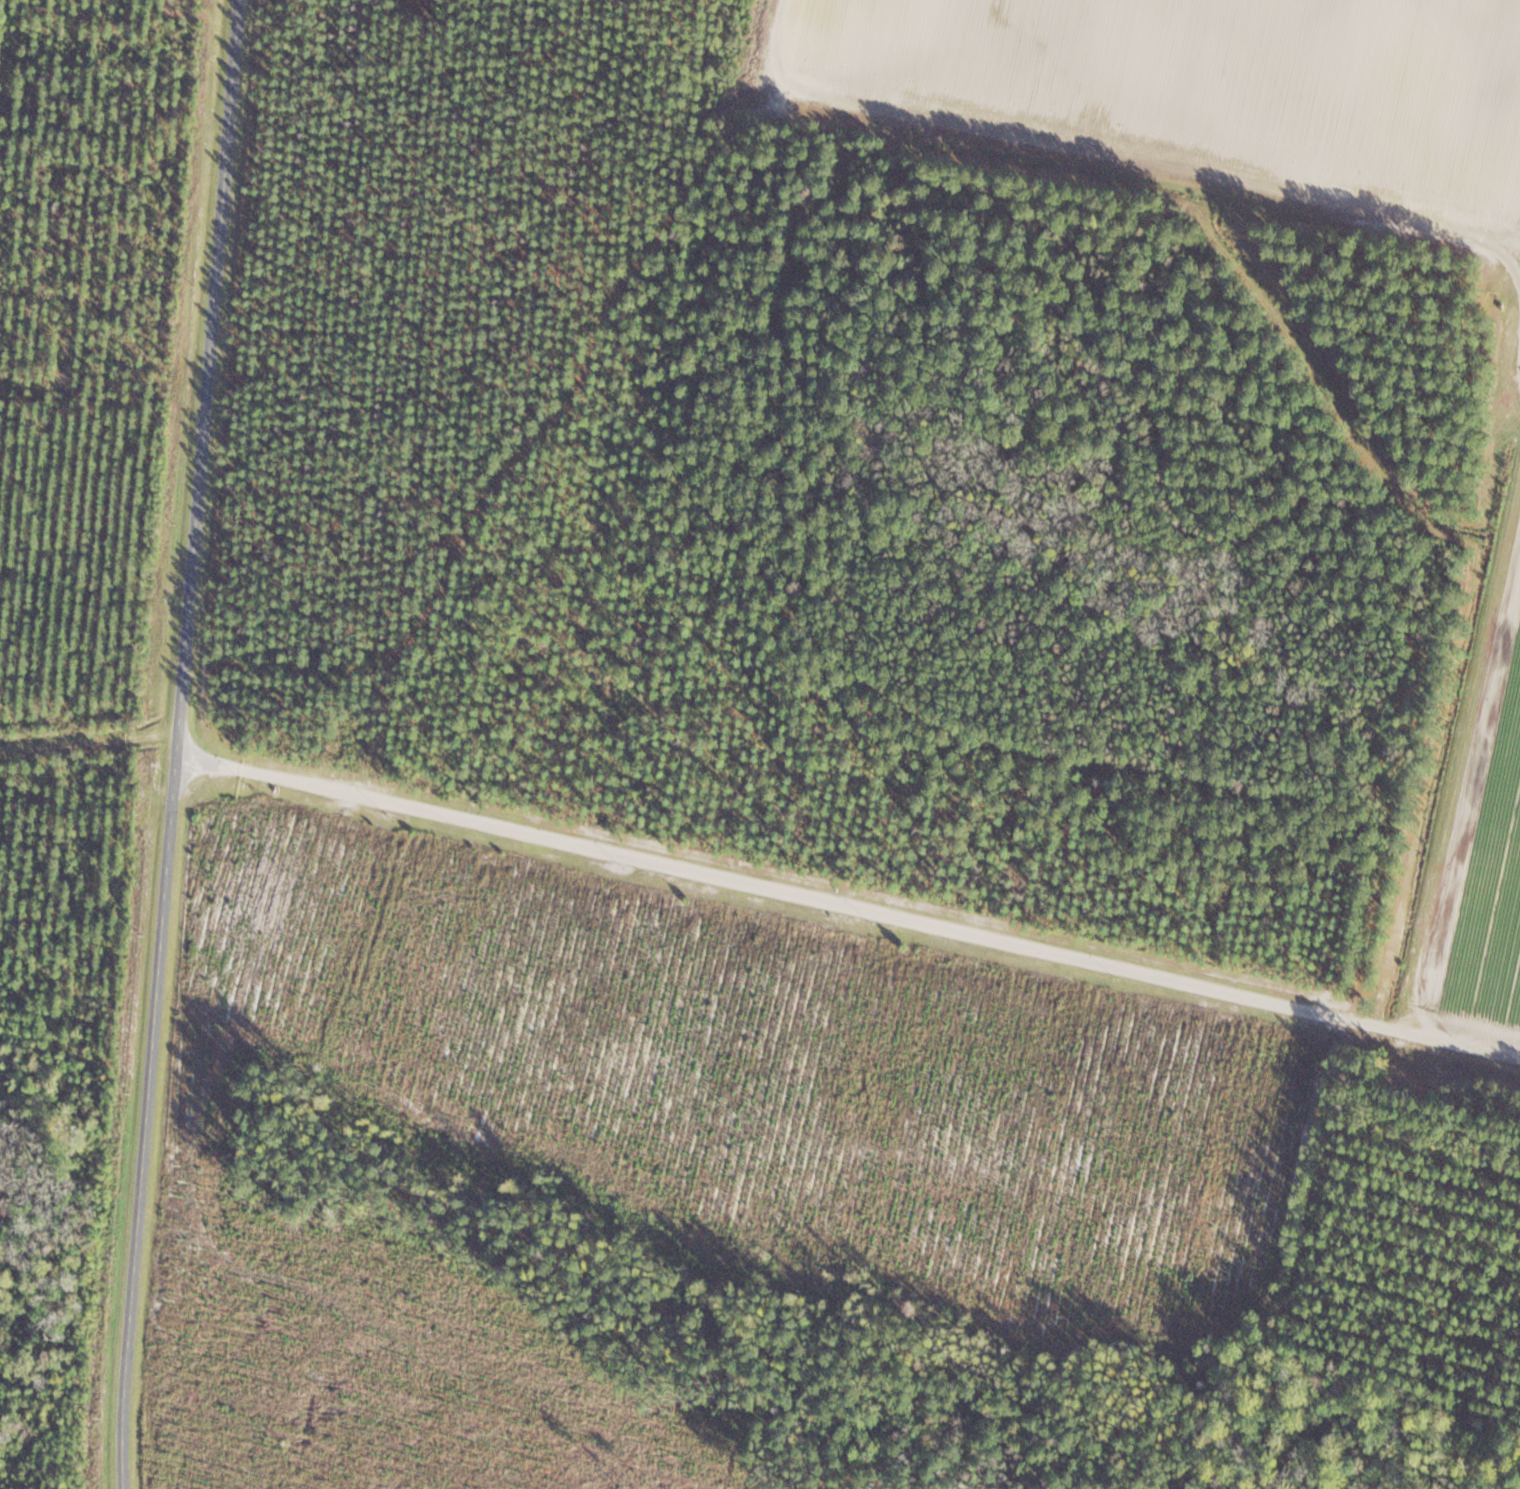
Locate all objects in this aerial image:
road: (179, 744)
road: (849, 901)

